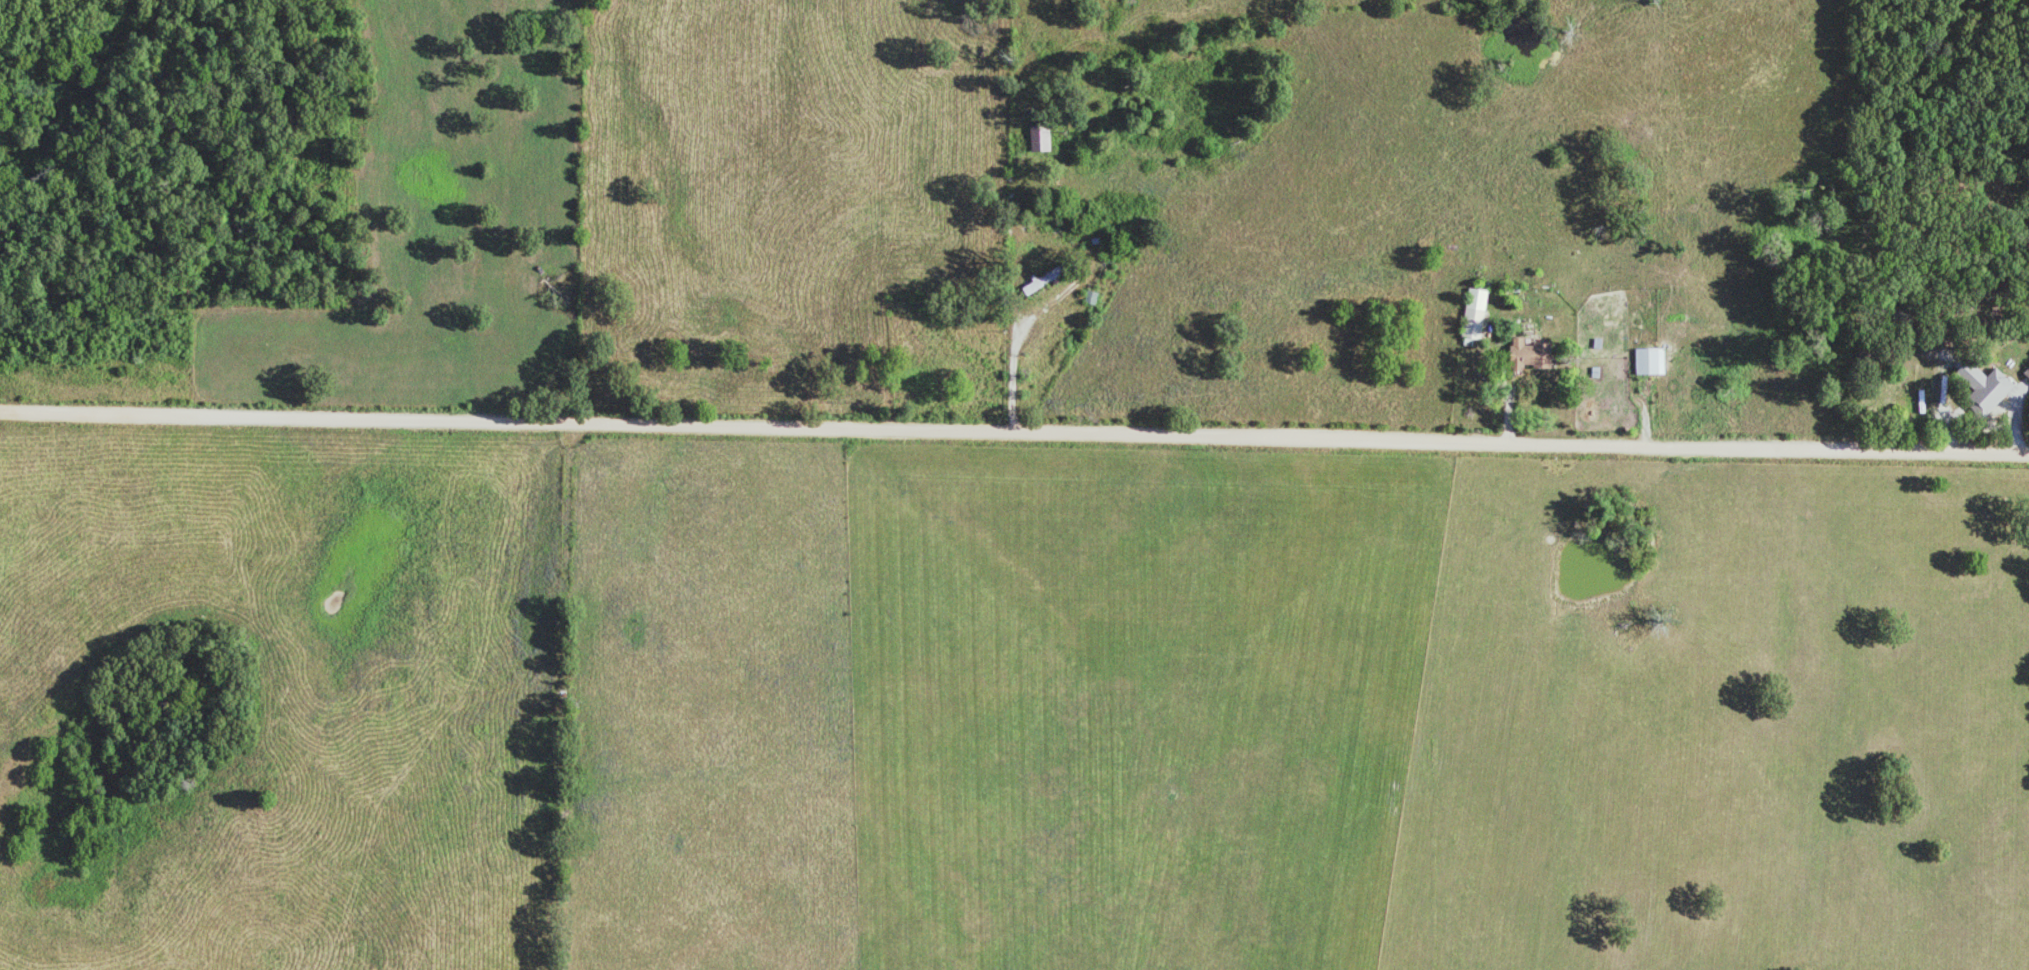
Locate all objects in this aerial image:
building: (1038, 139)
building: (1040, 282)
building: (1473, 313)
building: (1528, 355)
building: (1648, 362)
building: (2026, 373)
road: (1014, 376)
building: (1984, 387)
road: (1014, 432)

